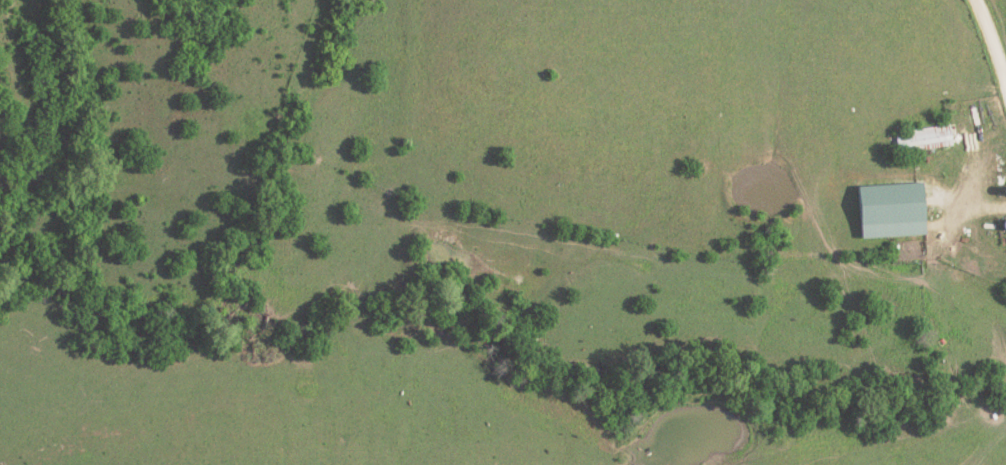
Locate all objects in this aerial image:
road: (994, 42)
building: (923, 139)
road: (966, 209)

